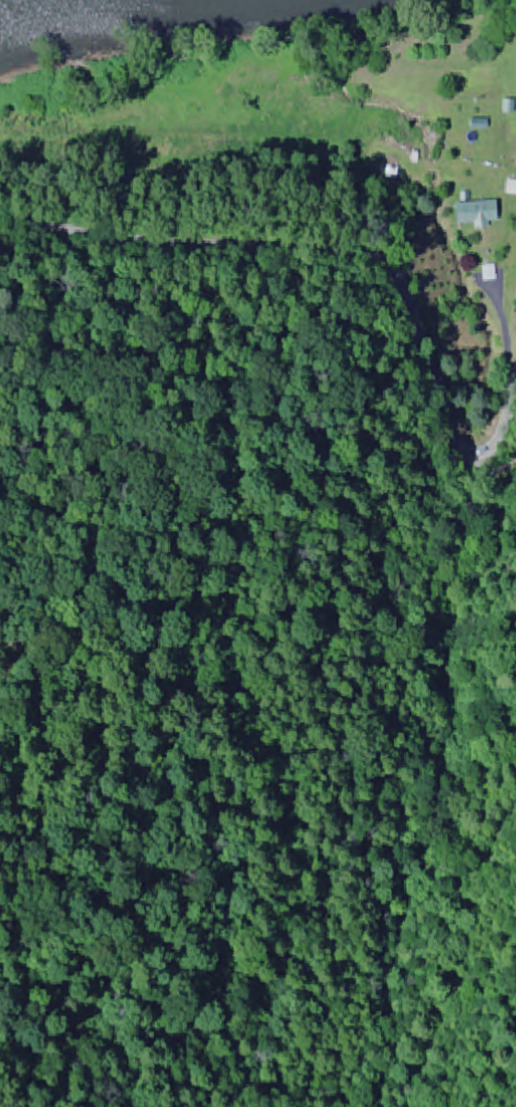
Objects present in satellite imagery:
river: (54, 11)
building: (515, 164)
building: (474, 214)
road: (369, 253)

